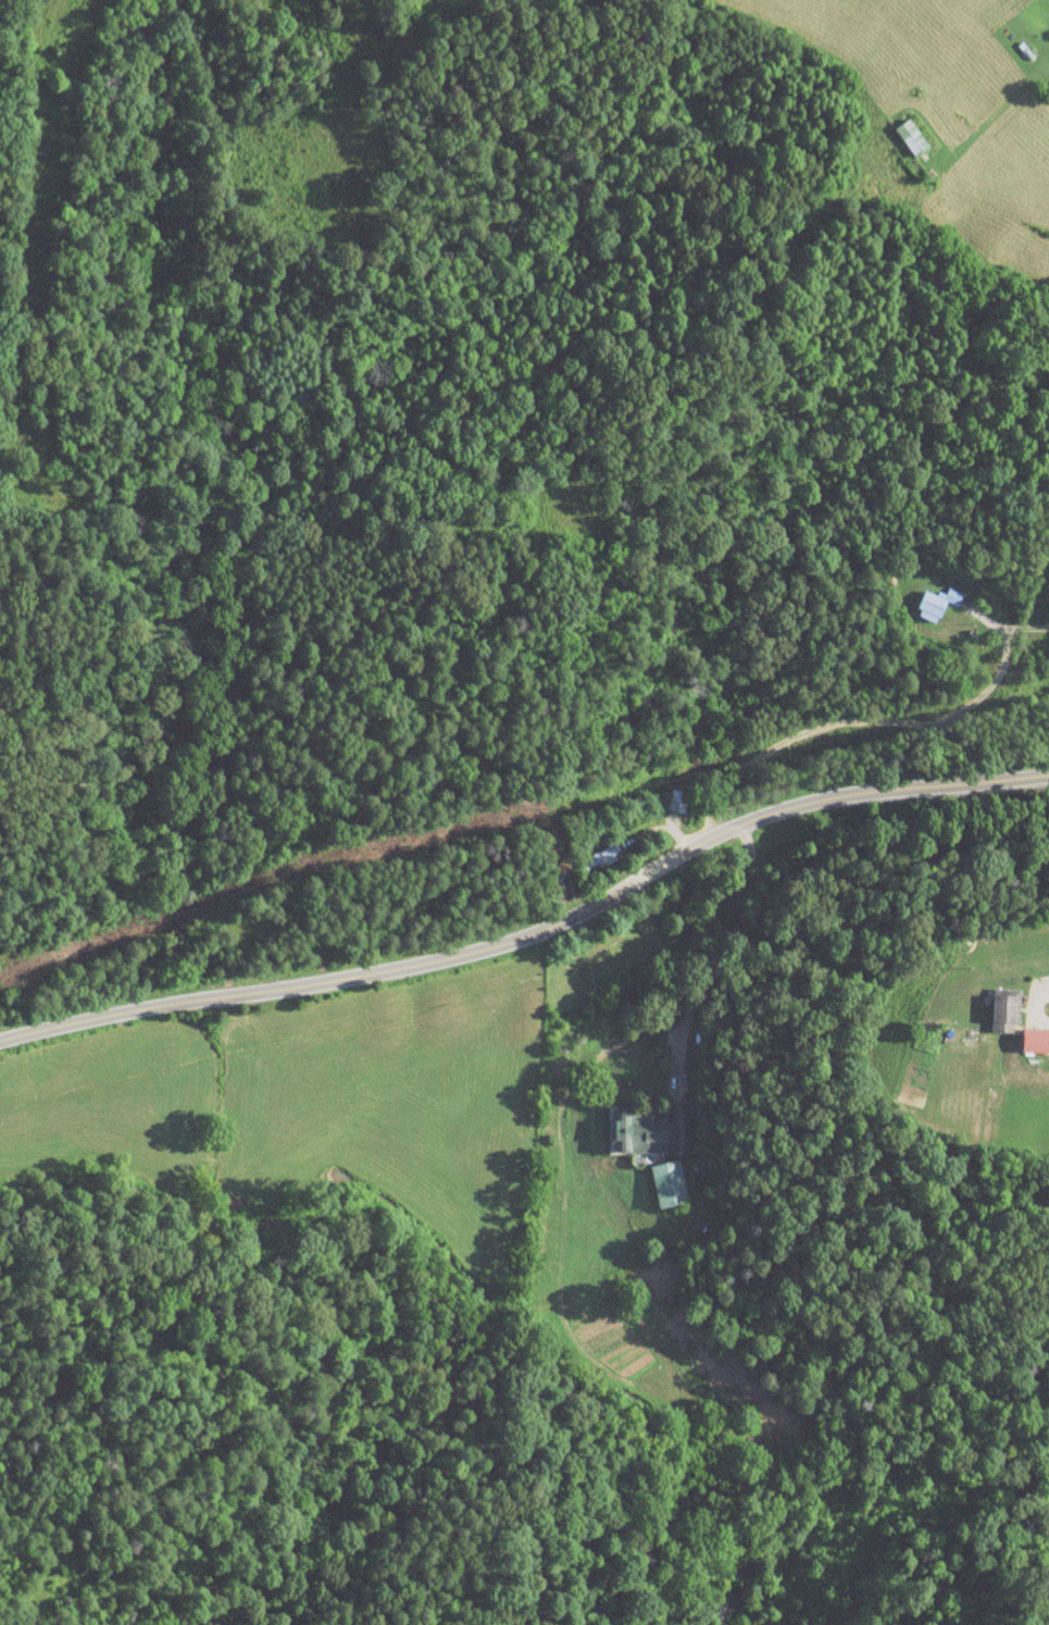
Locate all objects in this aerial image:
building: (913, 139)
building: (934, 606)
road: (872, 720)
building: (678, 803)
road: (534, 933)
road: (1033, 1008)
building: (1008, 1012)
building: (652, 1129)
building: (670, 1184)

